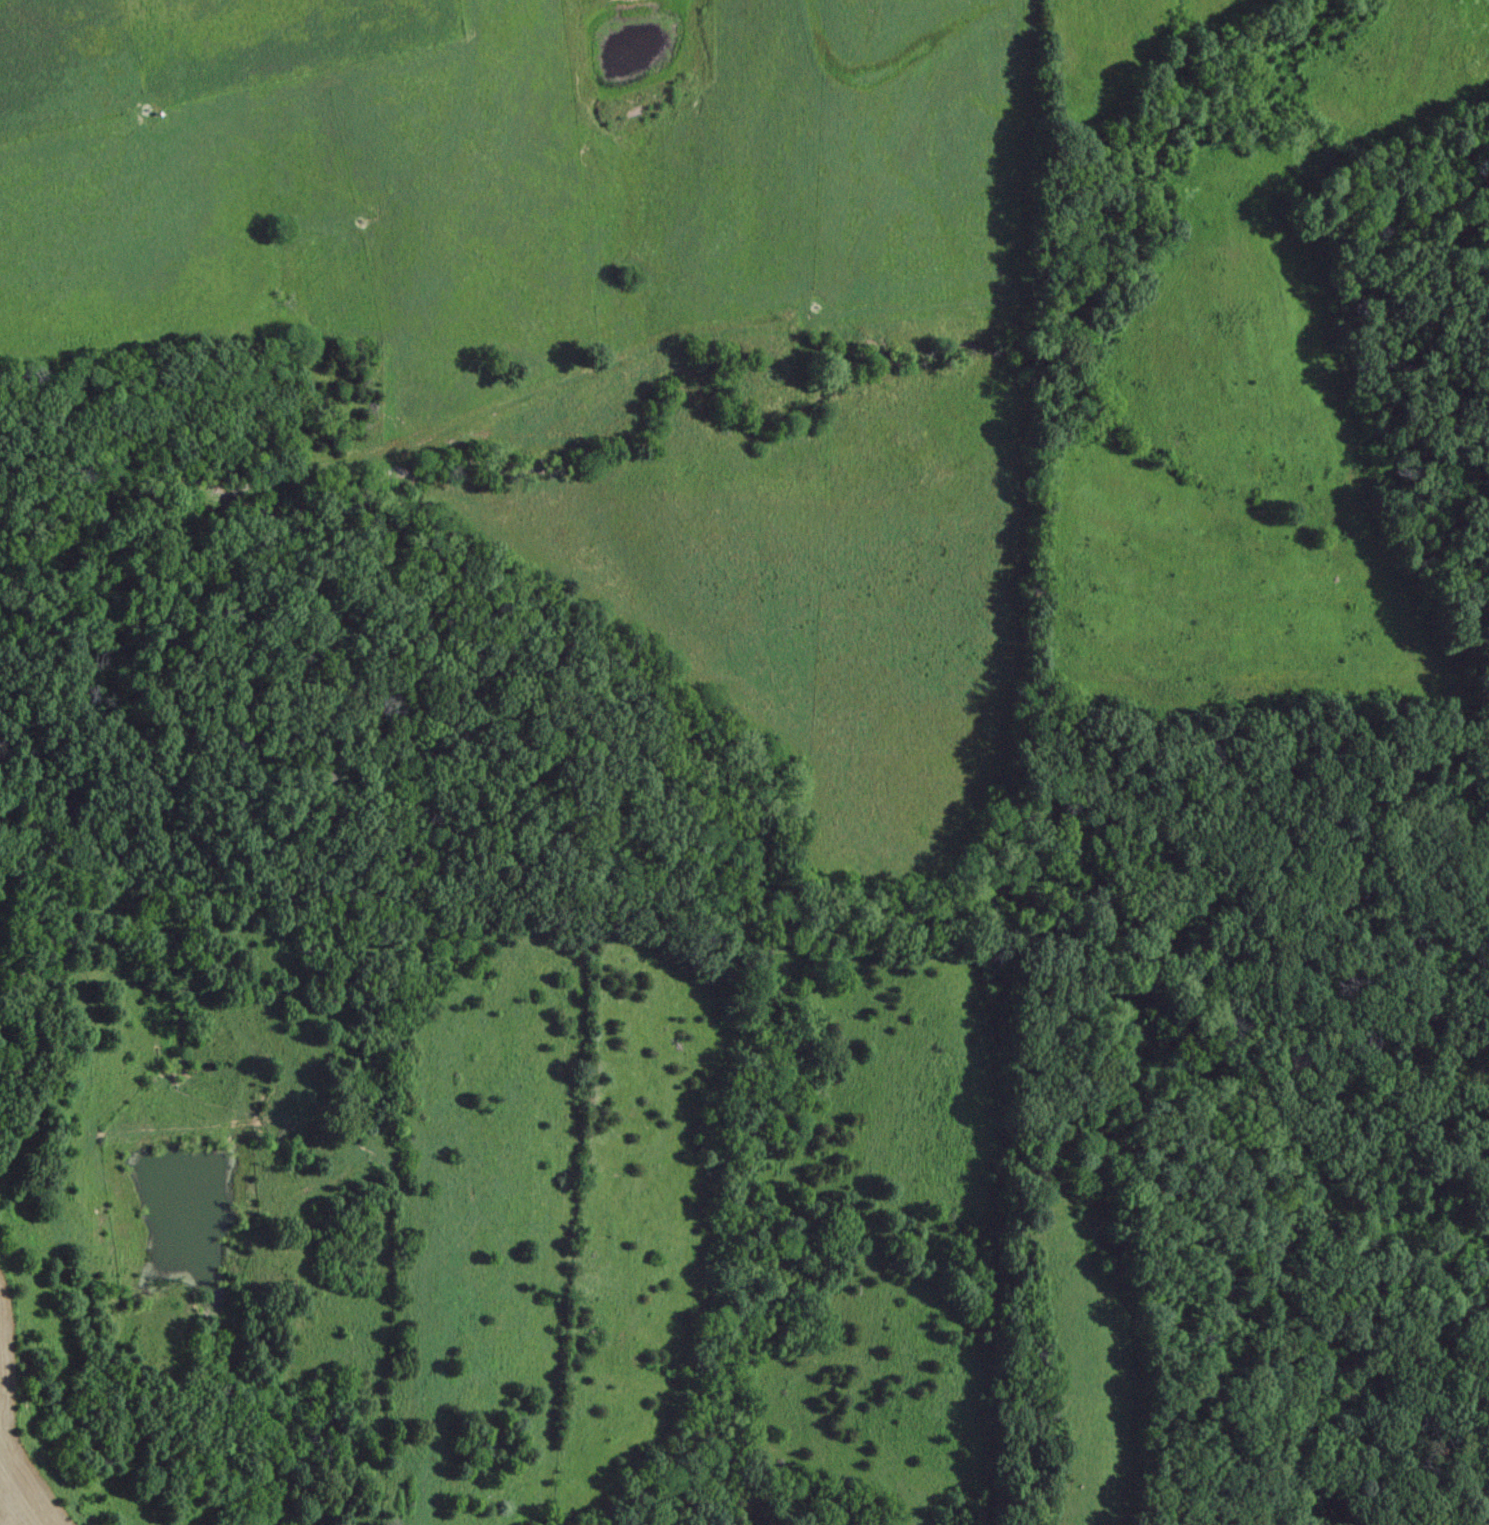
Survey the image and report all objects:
road: (1037, 12)
road: (839, 133)

